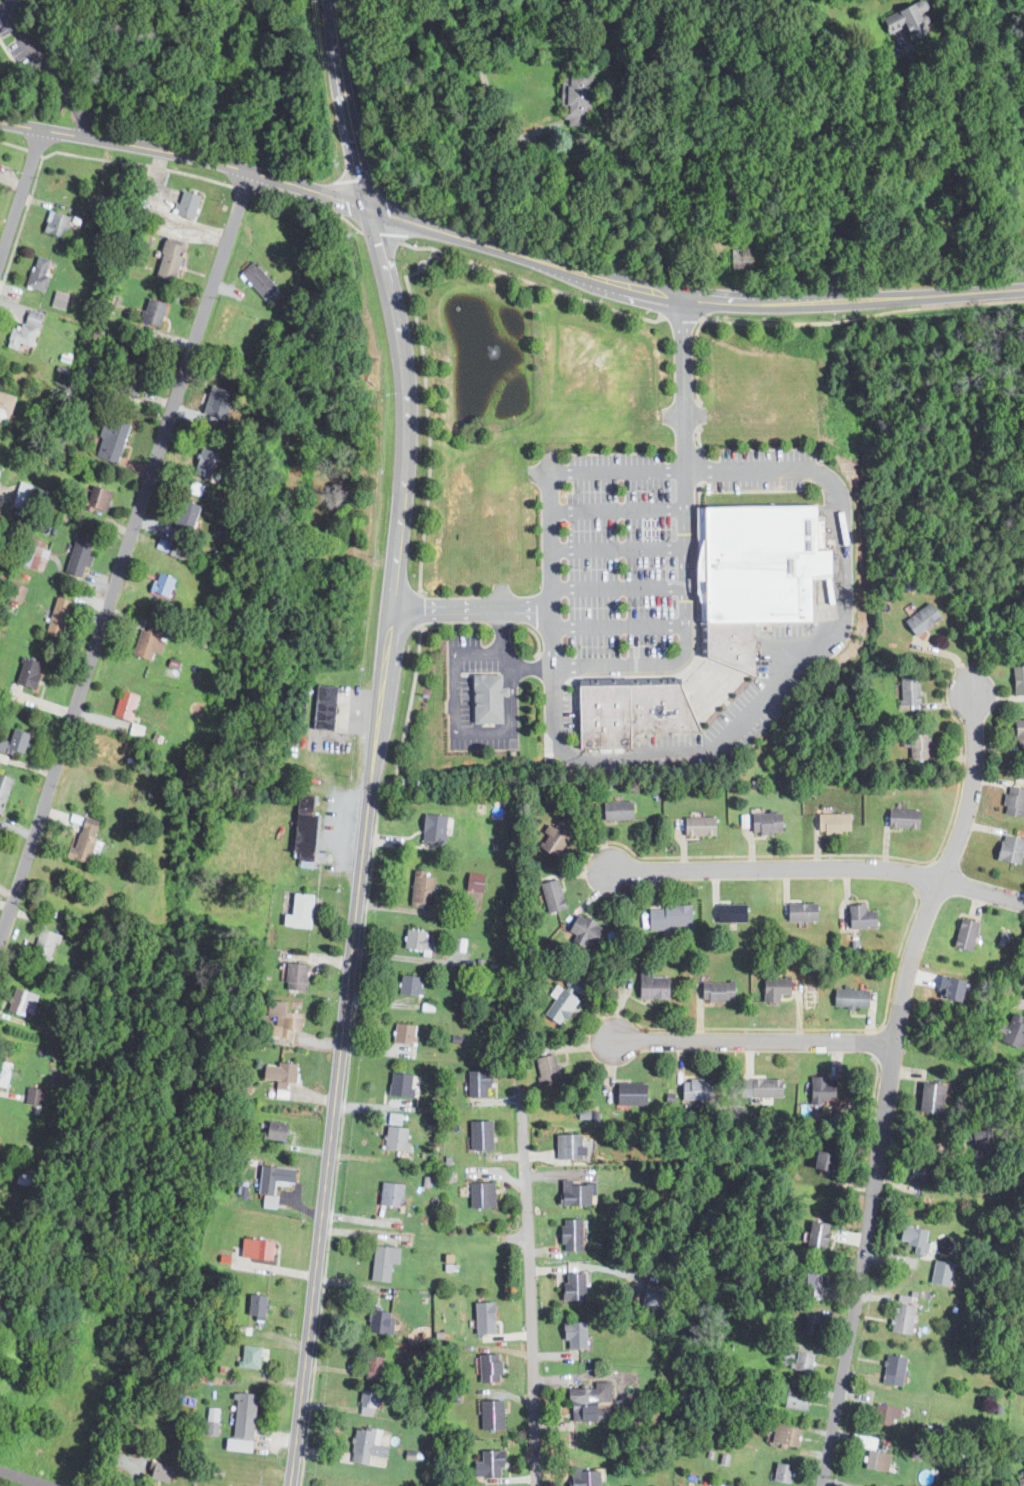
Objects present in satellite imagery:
road: (423, 17)
building: (905, 19)
road: (45, 70)
building: (581, 99)
road: (345, 106)
road: (67, 153)
road: (187, 155)
road: (863, 175)
road: (241, 188)
road: (19, 191)
road: (308, 202)
building: (191, 205)
building: (60, 225)
road: (379, 235)
building: (747, 258)
building: (173, 260)
building: (43, 273)
road: (595, 275)
building: (261, 280)
road: (530, 282)
road: (926, 294)
building: (58, 300)
building: (157, 312)
road: (861, 316)
road: (681, 317)
building: (28, 331)
building: (134, 376)
road: (696, 393)
building: (7, 406)
building: (213, 408)
road: (425, 411)
building: (114, 441)
building: (207, 464)
road: (746, 470)
parking lot: (761, 470)
road: (615, 473)
building: (99, 500)
road: (615, 510)
building: (189, 520)
road: (683, 542)
road: (615, 548)
building: (179, 551)
building: (36, 554)
building: (82, 556)
parking lot: (620, 556)
road: (123, 557)
road: (843, 557)
road: (547, 561)
building: (752, 576)
building: (166, 585)
road: (615, 589)
road: (417, 607)
road: (469, 608)
building: (62, 617)
building: (920, 619)
road: (418, 626)
road: (616, 626)
road: (499, 631)
building: (153, 641)
road: (503, 656)
building: (33, 673)
building: (1017, 680)
building: (907, 691)
building: (483, 697)
road: (508, 699)
building: (129, 706)
building: (325, 706)
parking lot: (738, 709)
building: (634, 711)
road: (454, 721)
building: (1018, 733)
building: (21, 741)
building: (915, 743)
road: (664, 756)
road: (971, 786)
building: (5, 791)
building: (1012, 802)
building: (615, 811)
building: (901, 819)
building: (763, 823)
building: (831, 824)
building: (697, 827)
building: (433, 829)
building: (309, 831)
building: (551, 841)
building: (88, 842)
road: (363, 847)
building: (1007, 850)
road: (849, 854)
road: (818, 868)
road: (922, 876)
building: (478, 883)
building: (425, 889)
building: (551, 896)
road: (417, 911)
building: (303, 912)
building: (729, 913)
building: (799, 913)
building: (858, 917)
building: (667, 918)
building: (582, 930)
building: (963, 935)
building: (1001, 938)
building: (421, 941)
building: (457, 944)
building: (48, 945)
building: (299, 977)
building: (413, 985)
building: (649, 986)
building: (771, 989)
building: (715, 992)
road: (1023, 994)
building: (848, 998)
building: (22, 1003)
building: (557, 1007)
road: (353, 1013)
building: (289, 1023)
road: (793, 1027)
building: (1012, 1031)
building: (408, 1034)
road: (753, 1040)
road: (872, 1043)
building: (544, 1069)
building: (6, 1074)
building: (282, 1074)
building: (476, 1084)
building: (405, 1086)
building: (758, 1088)
building: (822, 1089)
road: (873, 1090)
building: (694, 1091)
building: (629, 1095)
building: (37, 1097)
building: (930, 1098)
building: (0, 1126)
building: (278, 1131)
building: (399, 1134)
building: (485, 1134)
building: (979, 1137)
building: (572, 1146)
building: (827, 1161)
building: (920, 1172)
building: (277, 1178)
road: (873, 1180)
building: (579, 1193)
building: (394, 1194)
building: (485, 1194)
building: (576, 1235)
building: (820, 1236)
building: (912, 1237)
building: (260, 1248)
building: (382, 1260)
building: (939, 1272)
building: (810, 1283)
building: (578, 1285)
road: (527, 1291)
building: (1023, 1303)
building: (259, 1305)
building: (489, 1317)
building: (900, 1318)
building: (383, 1320)
building: (813, 1323)
building: (579, 1335)
building: (252, 1357)
building: (806, 1361)
building: (376, 1365)
building: (493, 1368)
building: (892, 1370)
building: (861, 1396)
building: (798, 1399)
building: (371, 1400)
building: (604, 1405)
building: (885, 1414)
building: (495, 1415)
building: (246, 1421)
building: (1023, 1421)
building: (788, 1435)
building: (370, 1446)
building: (875, 1460)
building: (496, 1464)
building: (162, 1471)
building: (786, 1472)
building: (1023, 1474)
building: (590, 1476)
road: (24, 1478)

